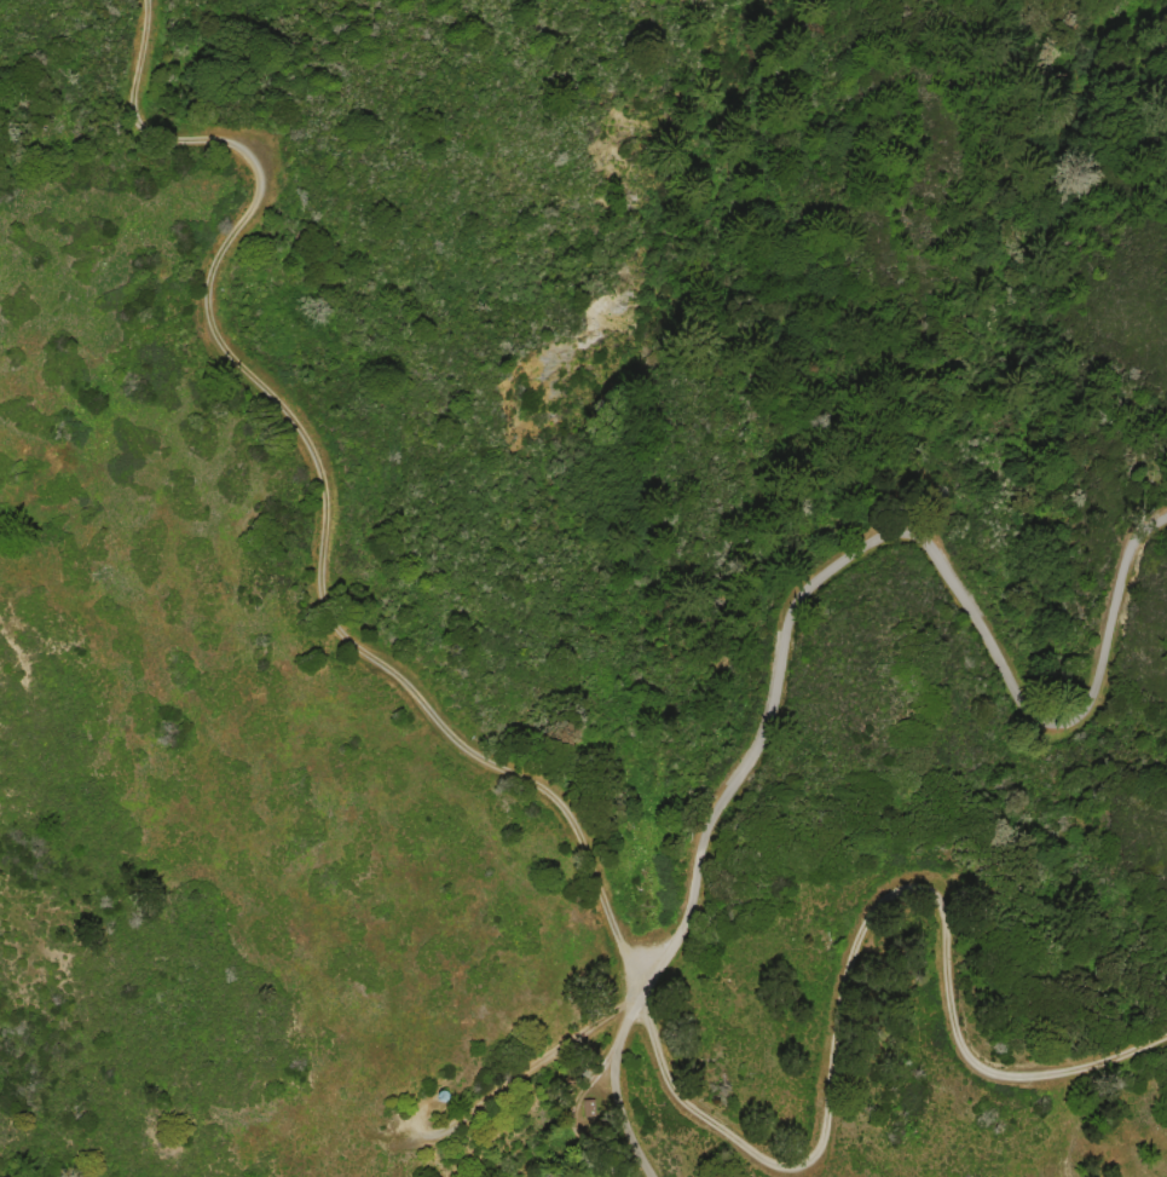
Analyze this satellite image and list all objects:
road: (802, 598)
road: (596, 855)
road: (538, 1073)
building: (441, 1096)
storage tank: (441, 1096)

